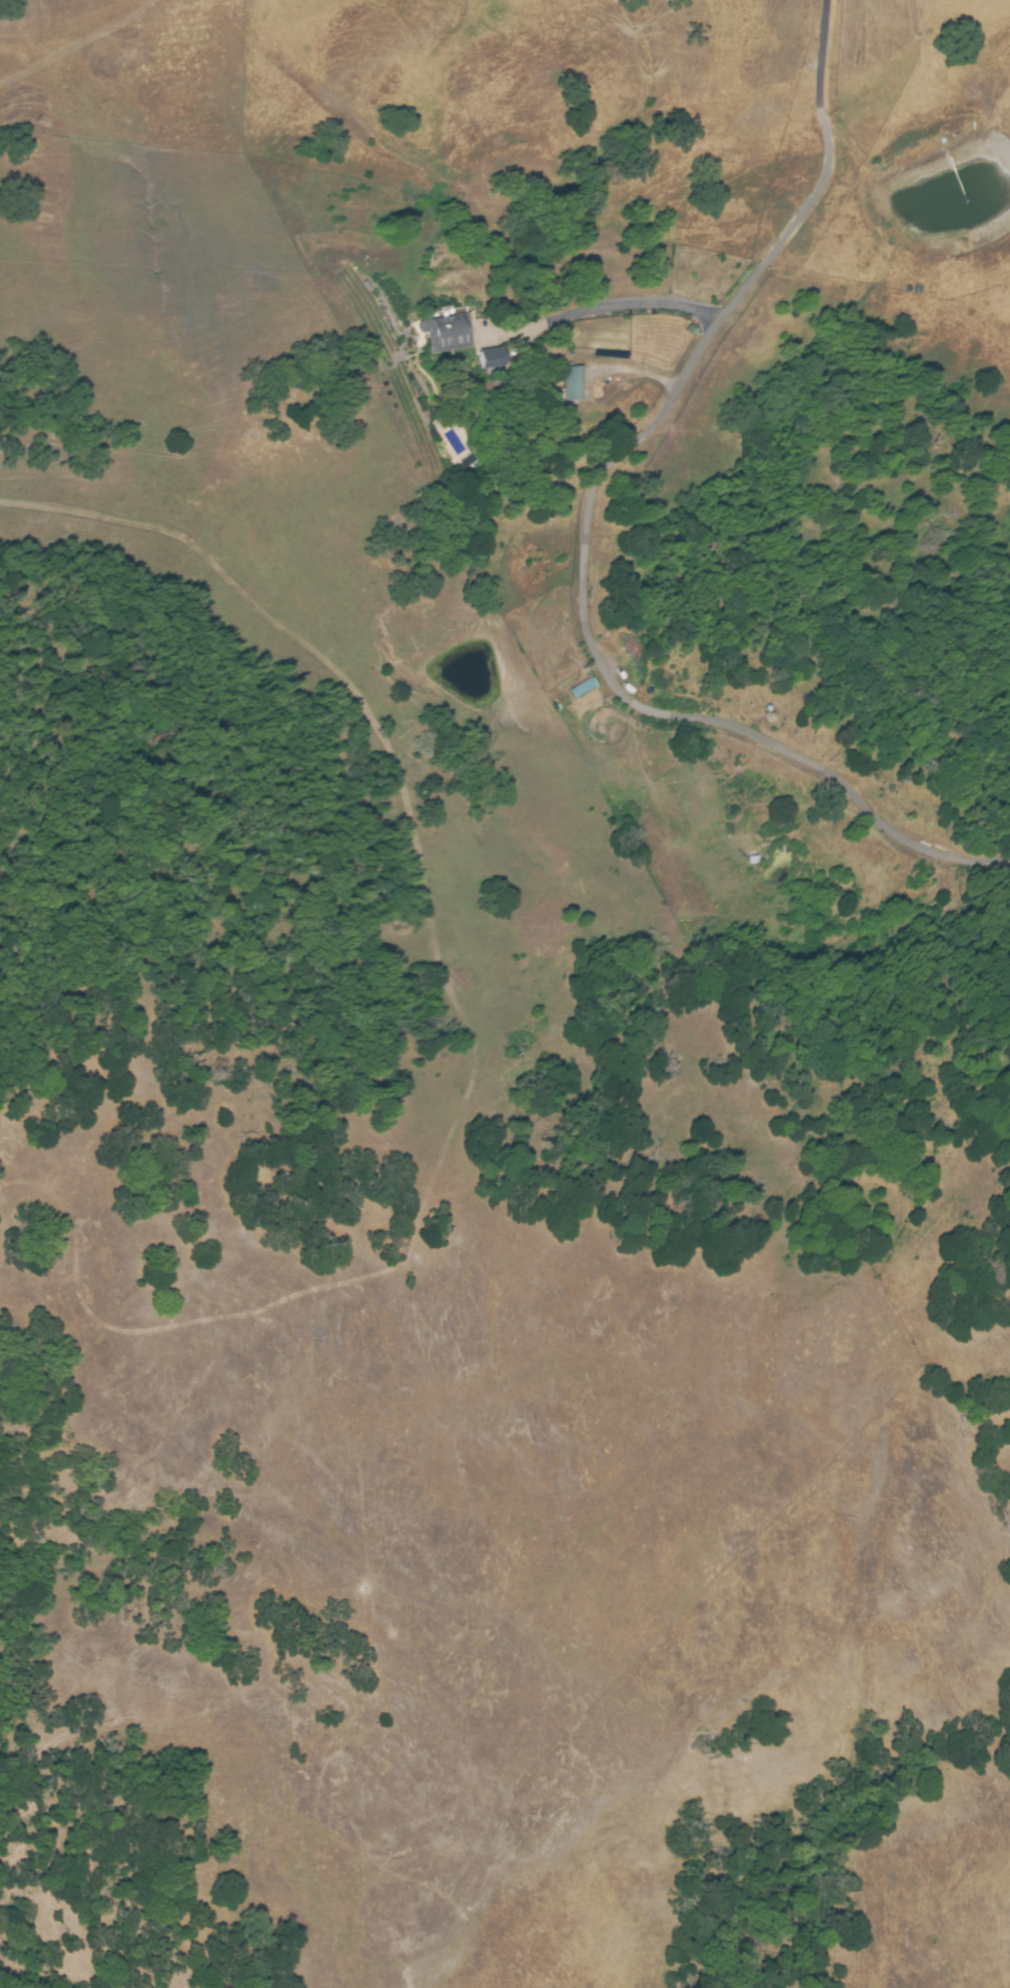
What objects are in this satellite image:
road: (598, 309)
building: (445, 333)
building: (487, 358)
road: (631, 370)
building: (574, 384)
building: (473, 460)
road: (587, 529)
building: (580, 687)

